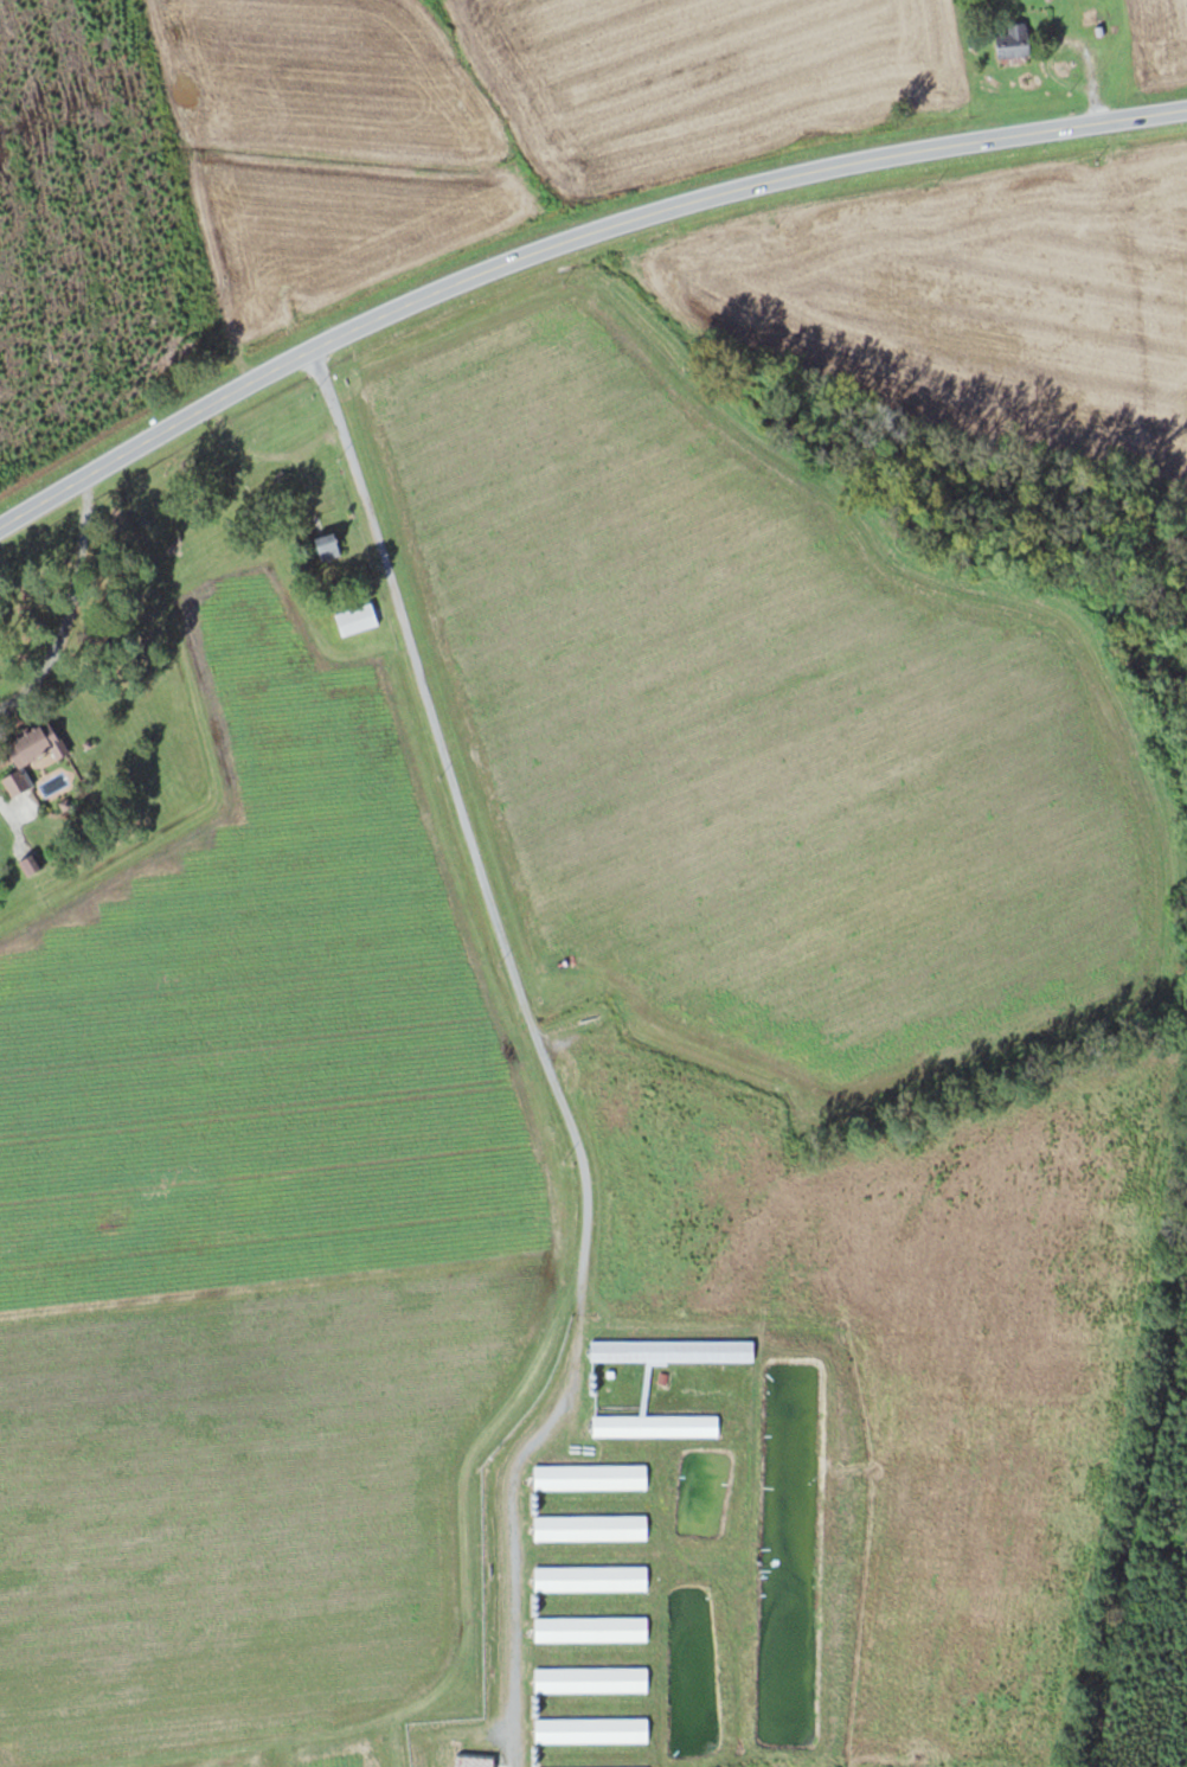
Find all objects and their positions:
building: (1092, 12)
building: (1016, 41)
road: (566, 239)
building: (331, 544)
building: (358, 617)
building: (34, 754)
building: (30, 865)
road: (539, 1036)
building: (674, 1350)
building: (656, 1425)
building: (591, 1477)
building: (592, 1528)
building: (592, 1579)
building: (593, 1628)
building: (593, 1679)
building: (593, 1730)

